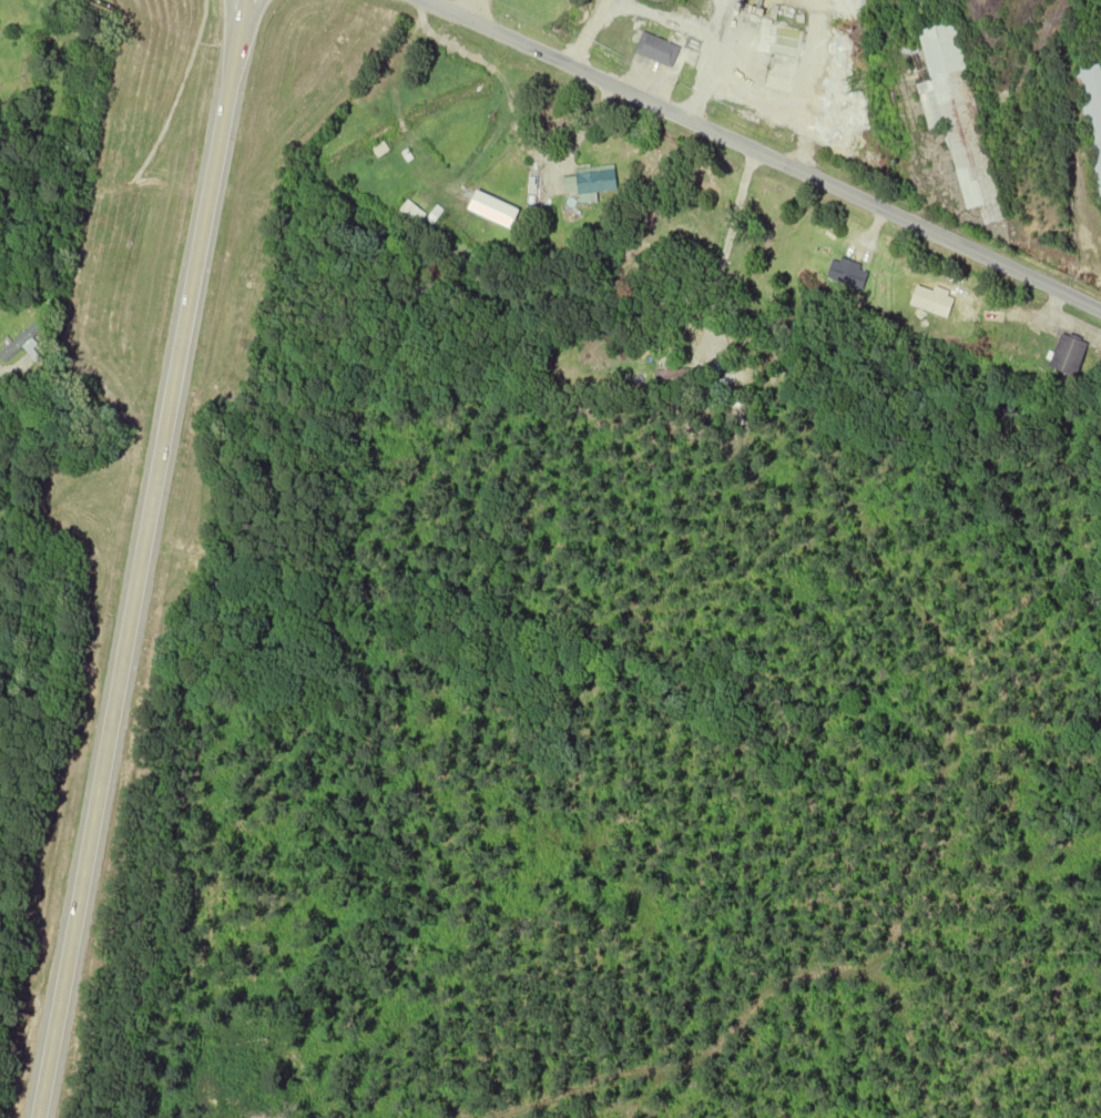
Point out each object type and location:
road: (230, 27)
road: (246, 28)
building: (657, 48)
building: (1093, 108)
building: (961, 114)
road: (763, 156)
building: (592, 182)
building: (532, 184)
building: (489, 203)
building: (848, 274)
building: (23, 342)
building: (1070, 354)
building: (675, 375)
road: (137, 559)

